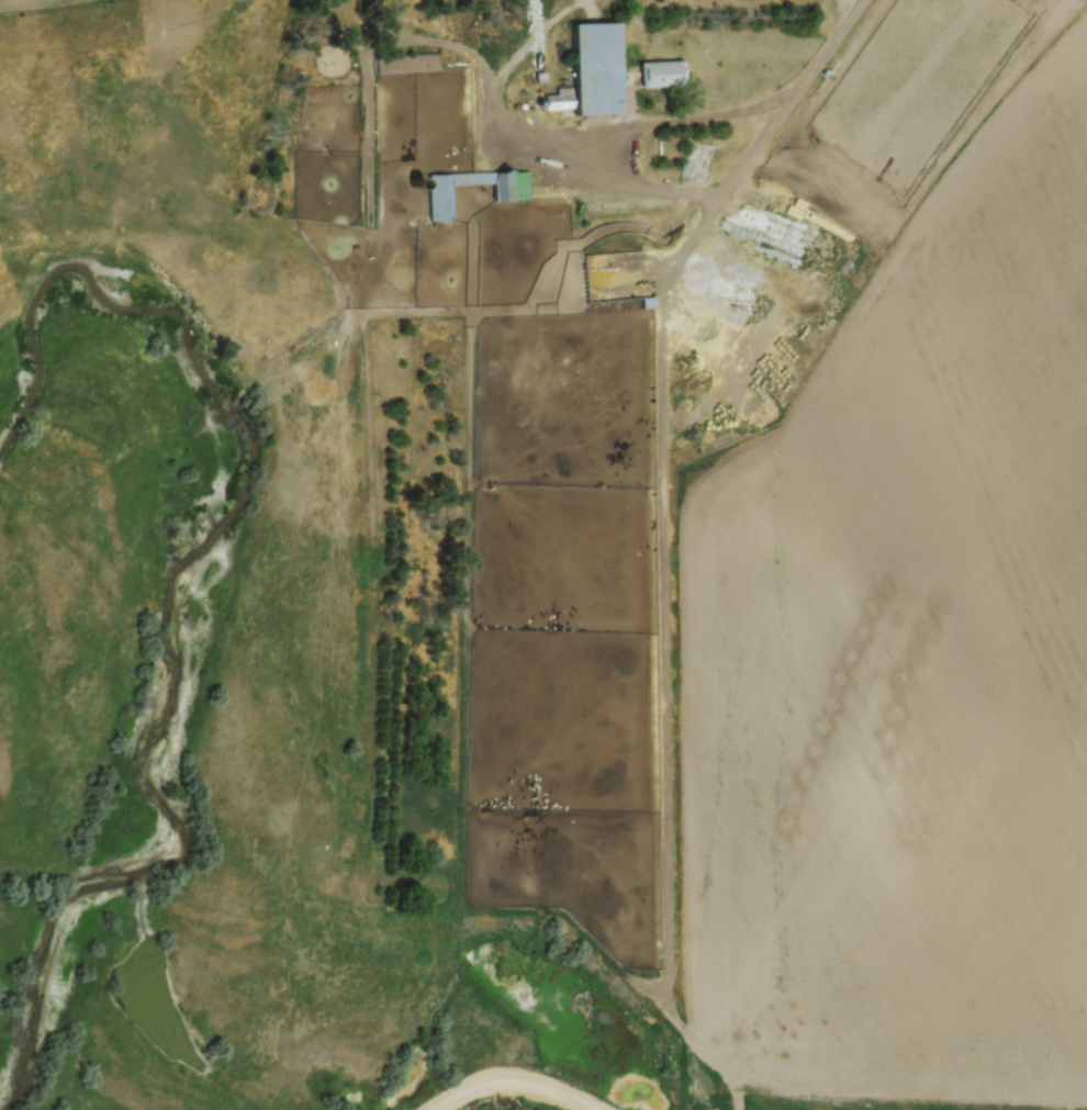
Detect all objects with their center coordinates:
crop: (27, 3)
building: (410, 61)
building: (596, 68)
building: (661, 71)
road: (707, 120)
building: (511, 192)
building: (614, 277)
road: (668, 506)
crop: (909, 659)
road: (522, 1078)

